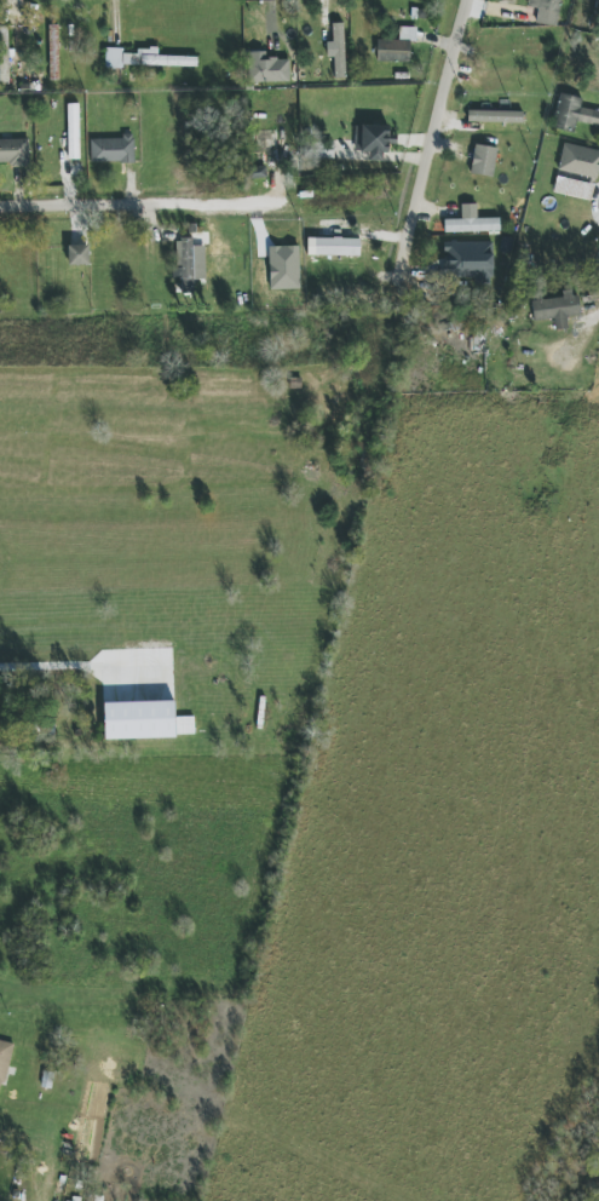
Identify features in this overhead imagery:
building: (547, 11)
building: (397, 46)
building: (336, 50)
building: (53, 52)
building: (4, 54)
building: (144, 58)
building: (266, 68)
building: (574, 114)
building: (495, 116)
building: (73, 132)
road: (432, 136)
building: (372, 140)
building: (113, 150)
building: (318, 150)
building: (13, 151)
building: (483, 161)
building: (580, 161)
building: (255, 172)
building: (572, 188)
road: (111, 202)
building: (471, 222)
building: (277, 239)
building: (336, 247)
building: (77, 255)
building: (467, 260)
building: (189, 263)
building: (557, 310)
building: (185, 725)
building: (4, 1062)

